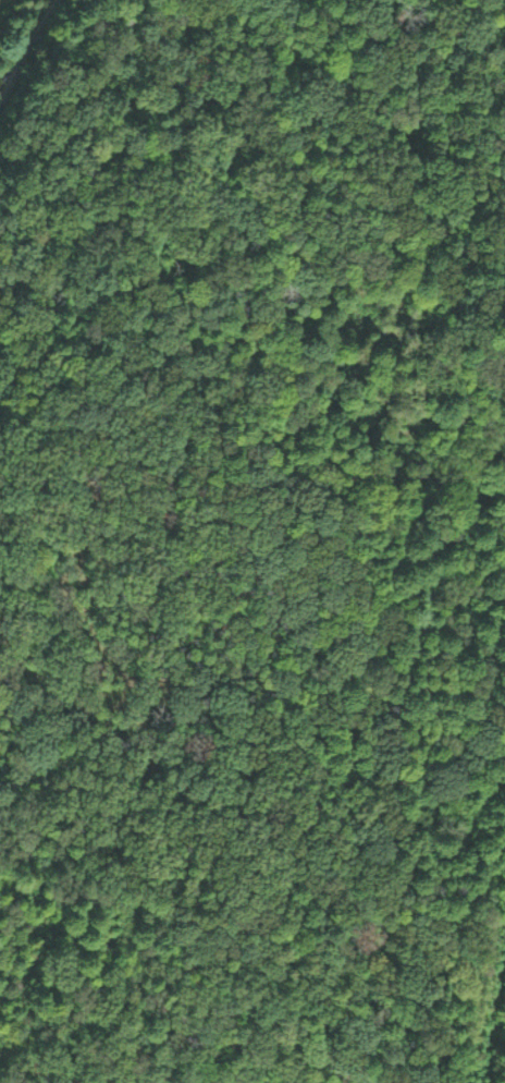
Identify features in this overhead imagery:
road: (27, 49)

